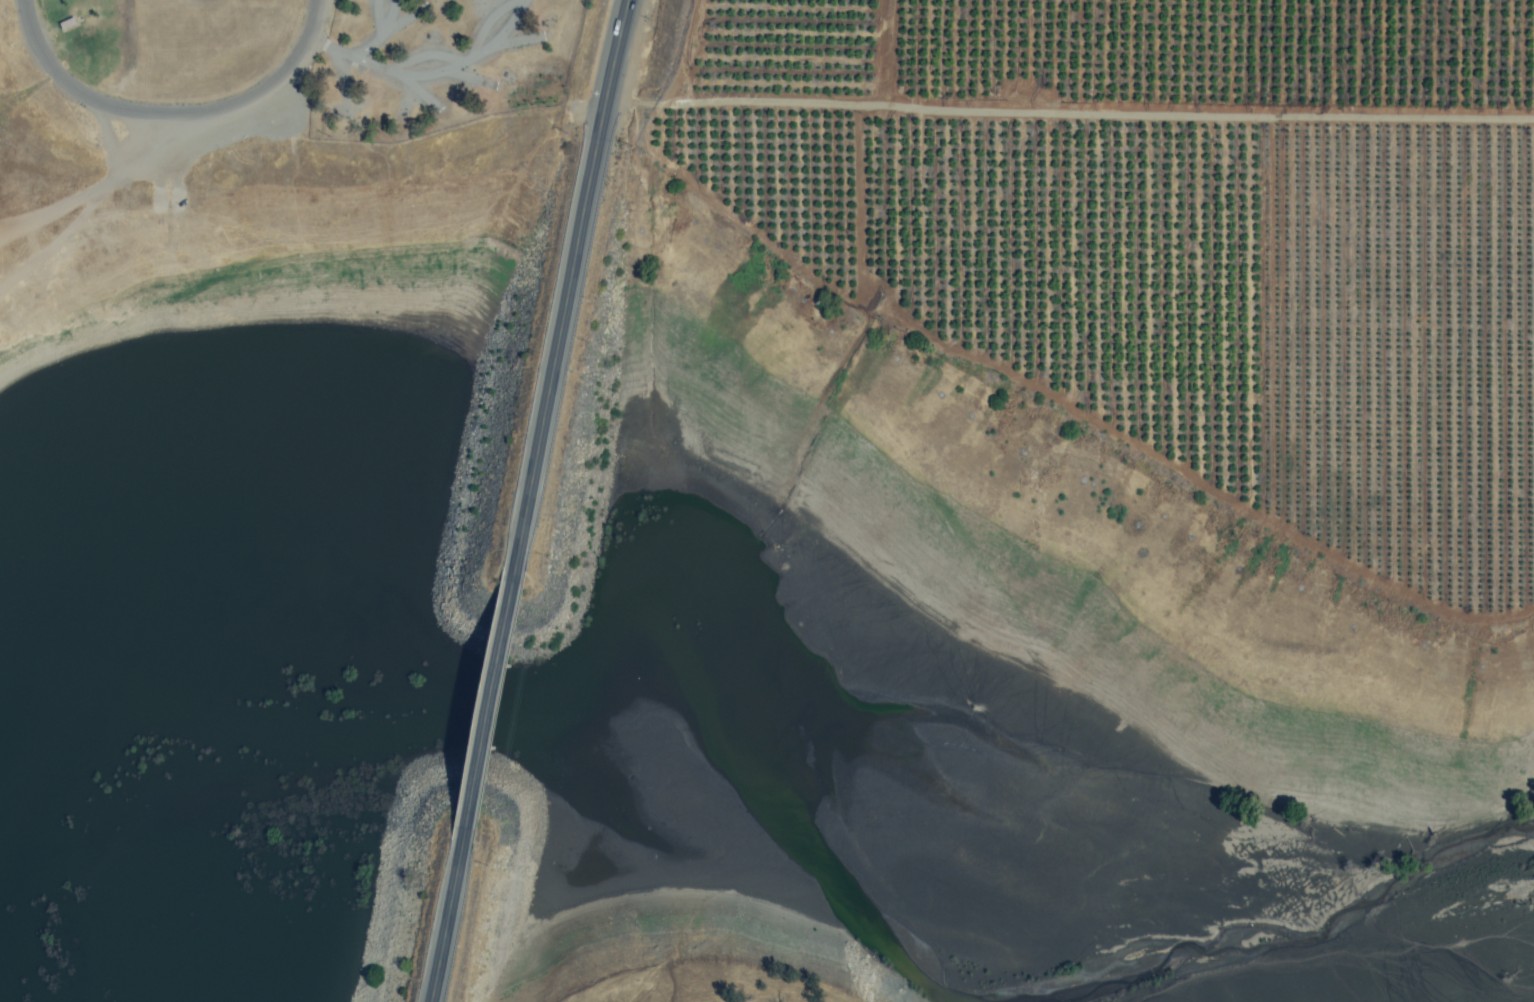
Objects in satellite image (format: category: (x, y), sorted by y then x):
building: (66, 24)
road: (170, 110)
crop: (1171, 249)
road: (566, 281)
river: (561, 698)
road: (485, 704)
road: (443, 922)
river: (1307, 927)

